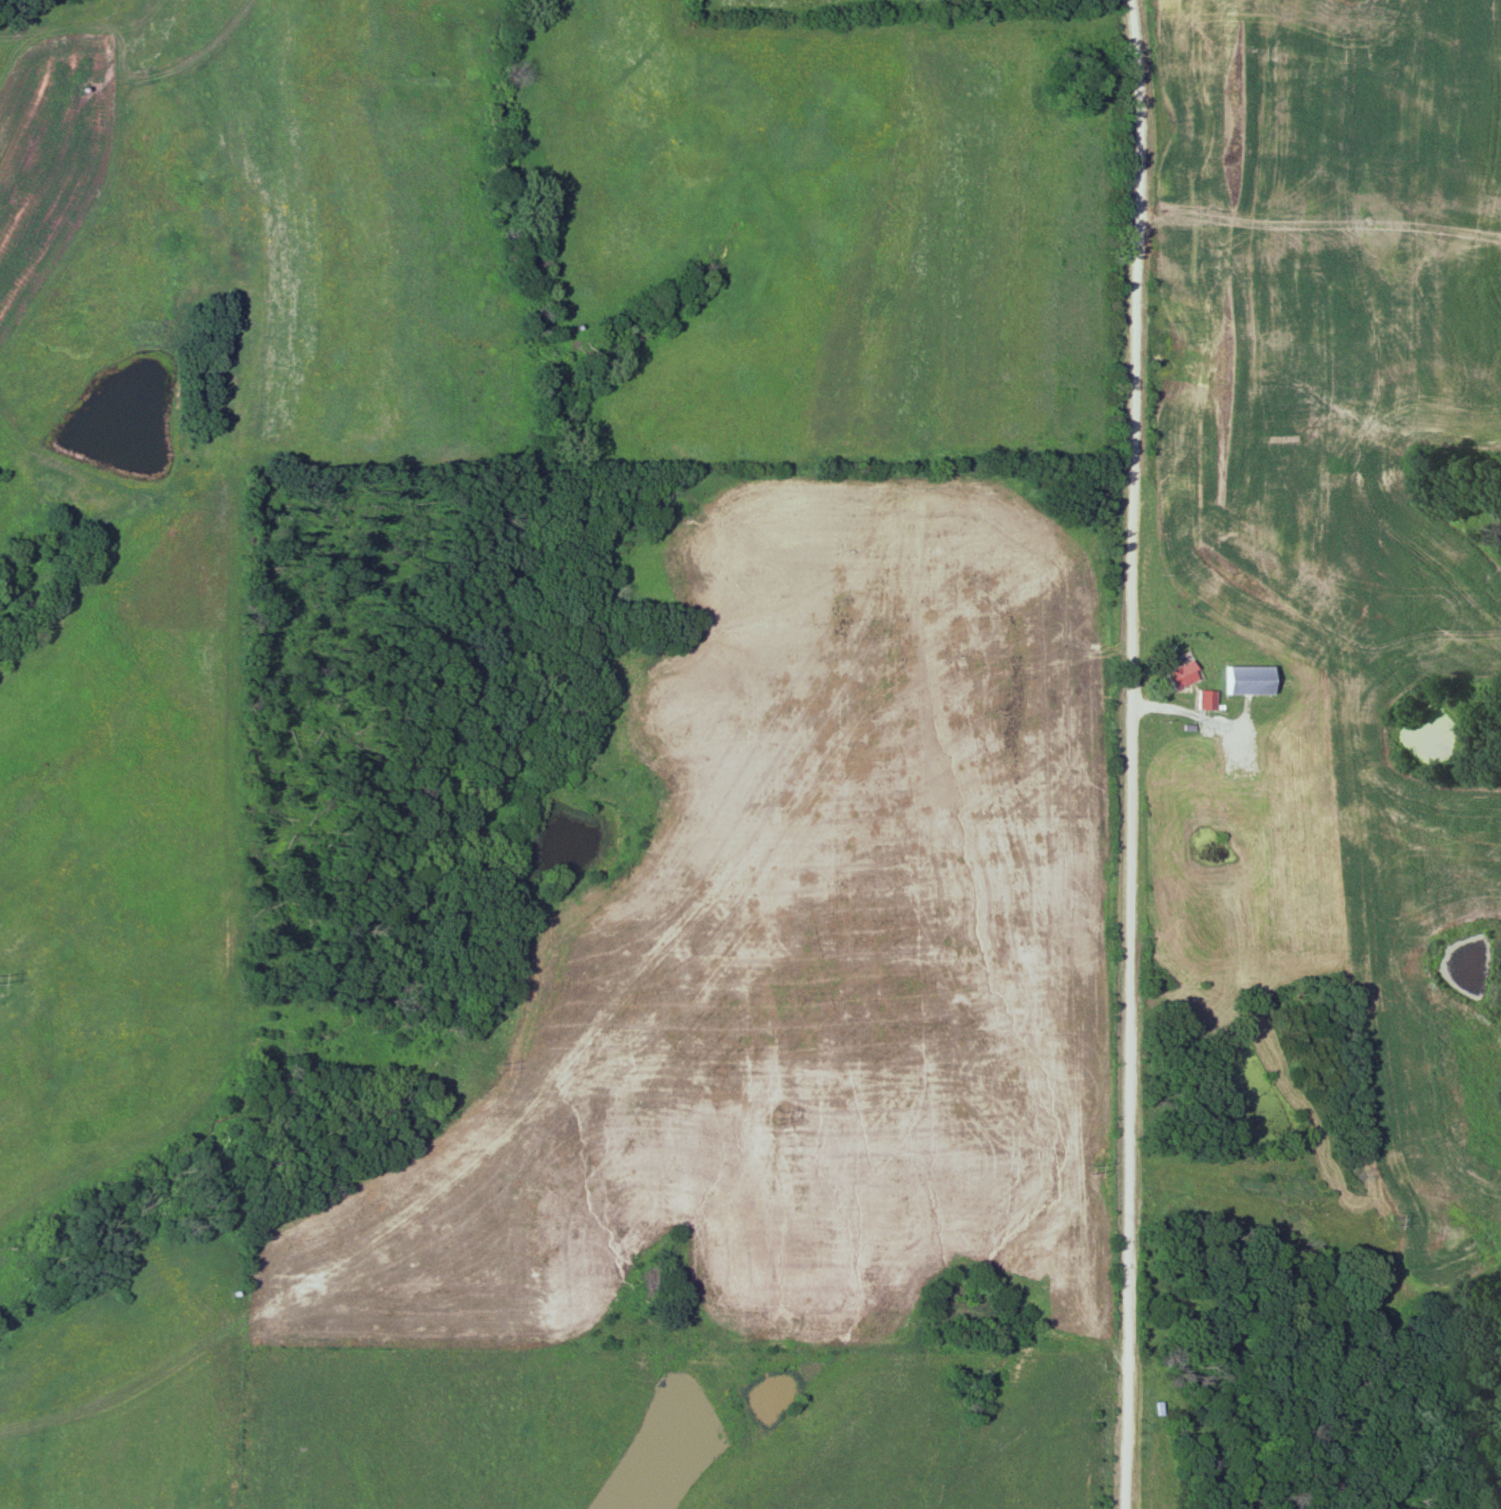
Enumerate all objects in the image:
building: (1245, 683)
building: (1204, 702)
road: (1133, 754)
building: (1228, 754)

